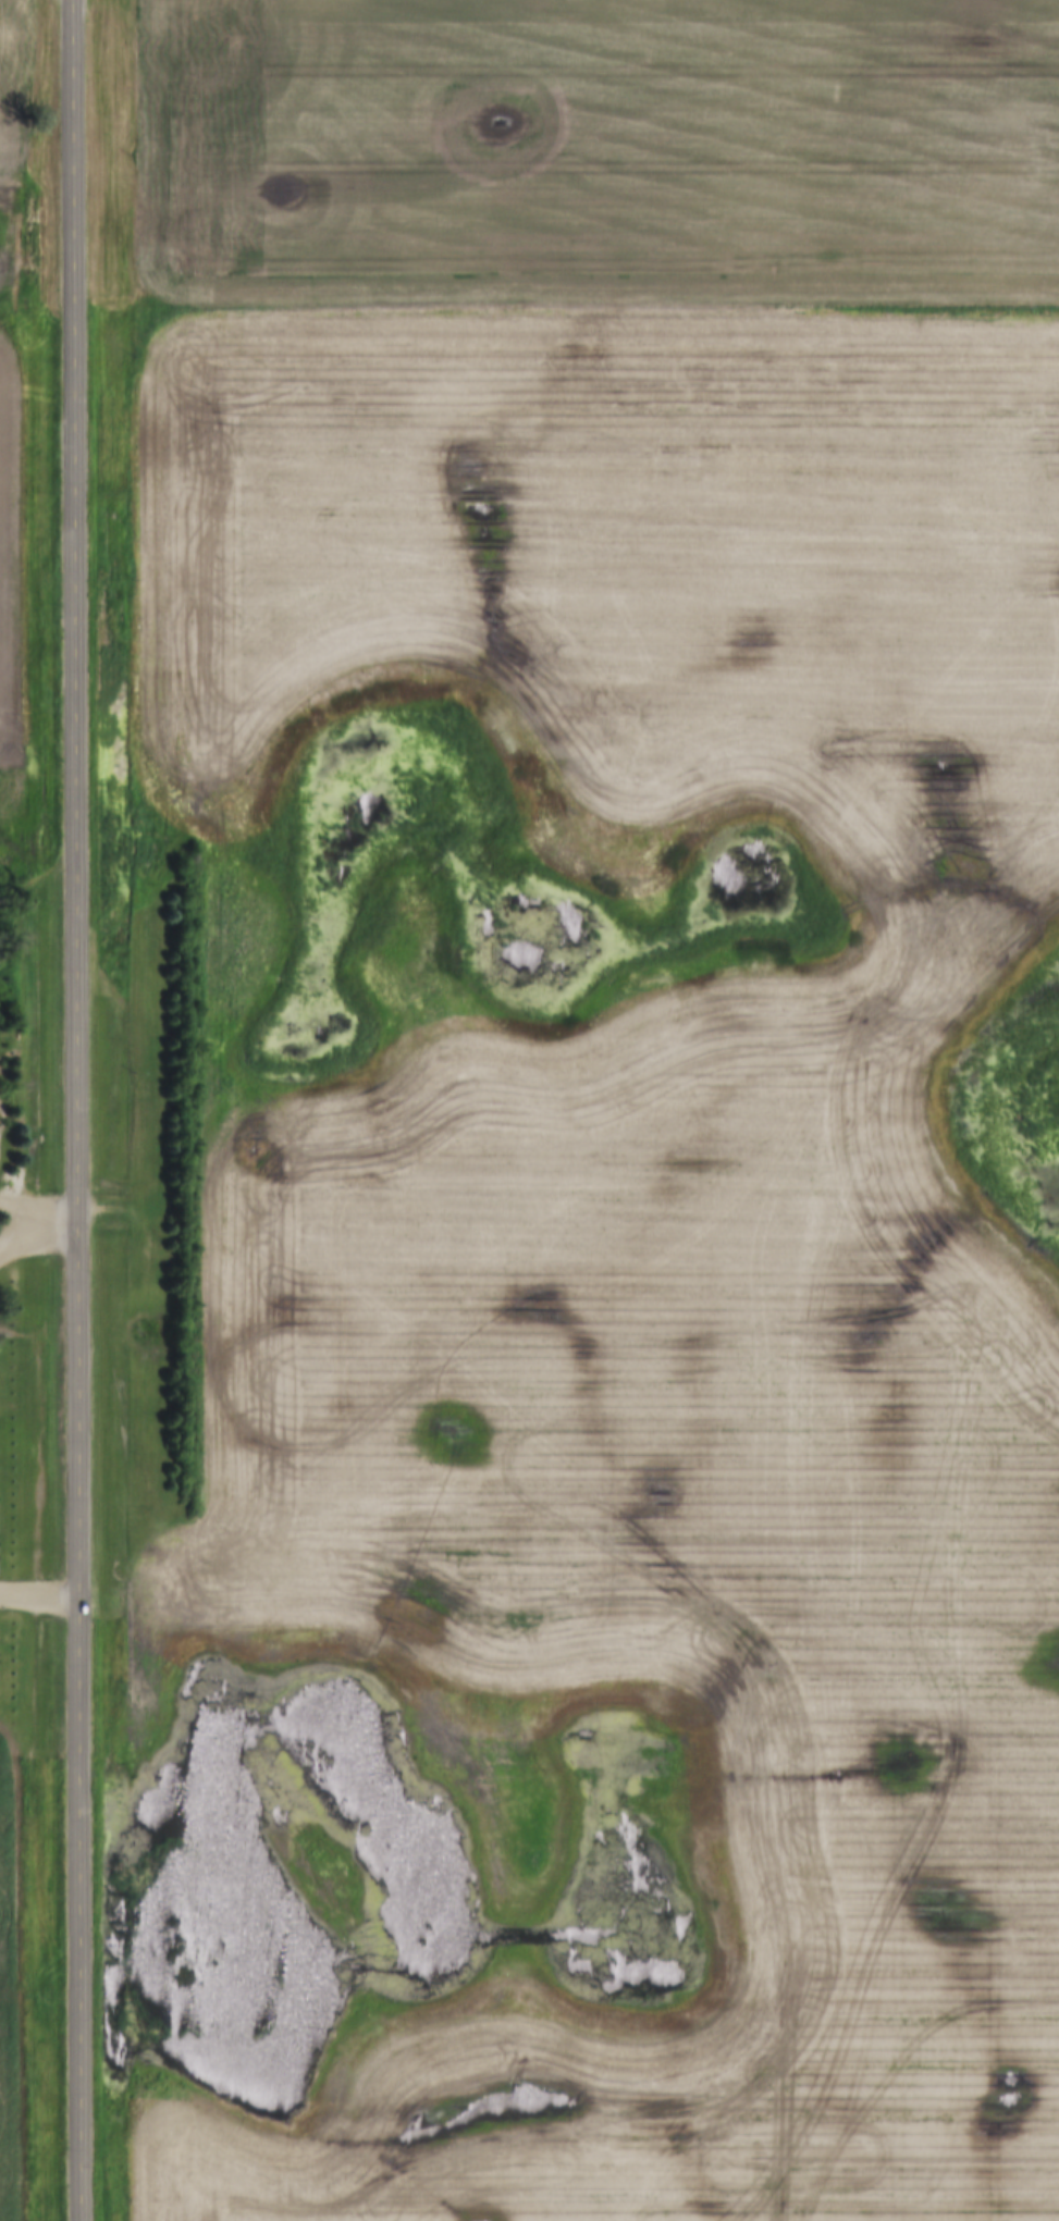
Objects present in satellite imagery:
road: (77, 1110)
road: (57, 1226)
road: (34, 1229)

